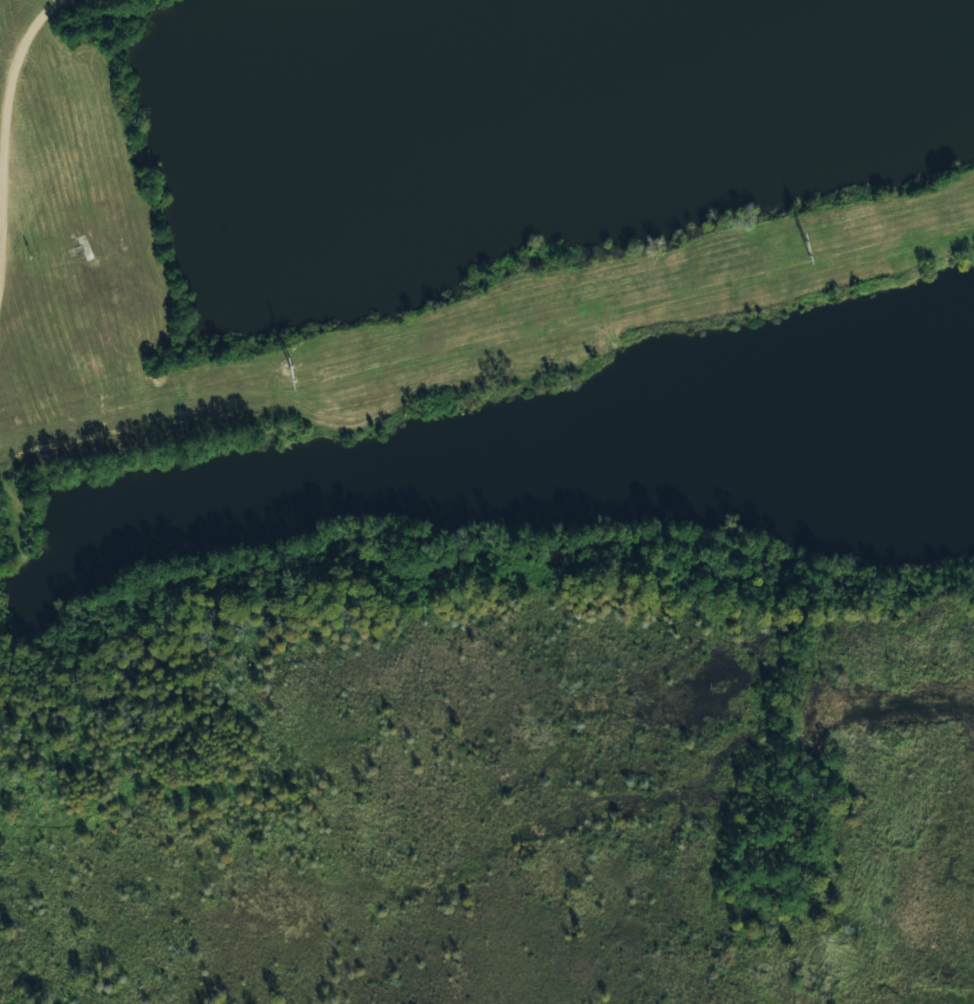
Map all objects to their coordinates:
road: (13, 80)
road: (491, 353)

